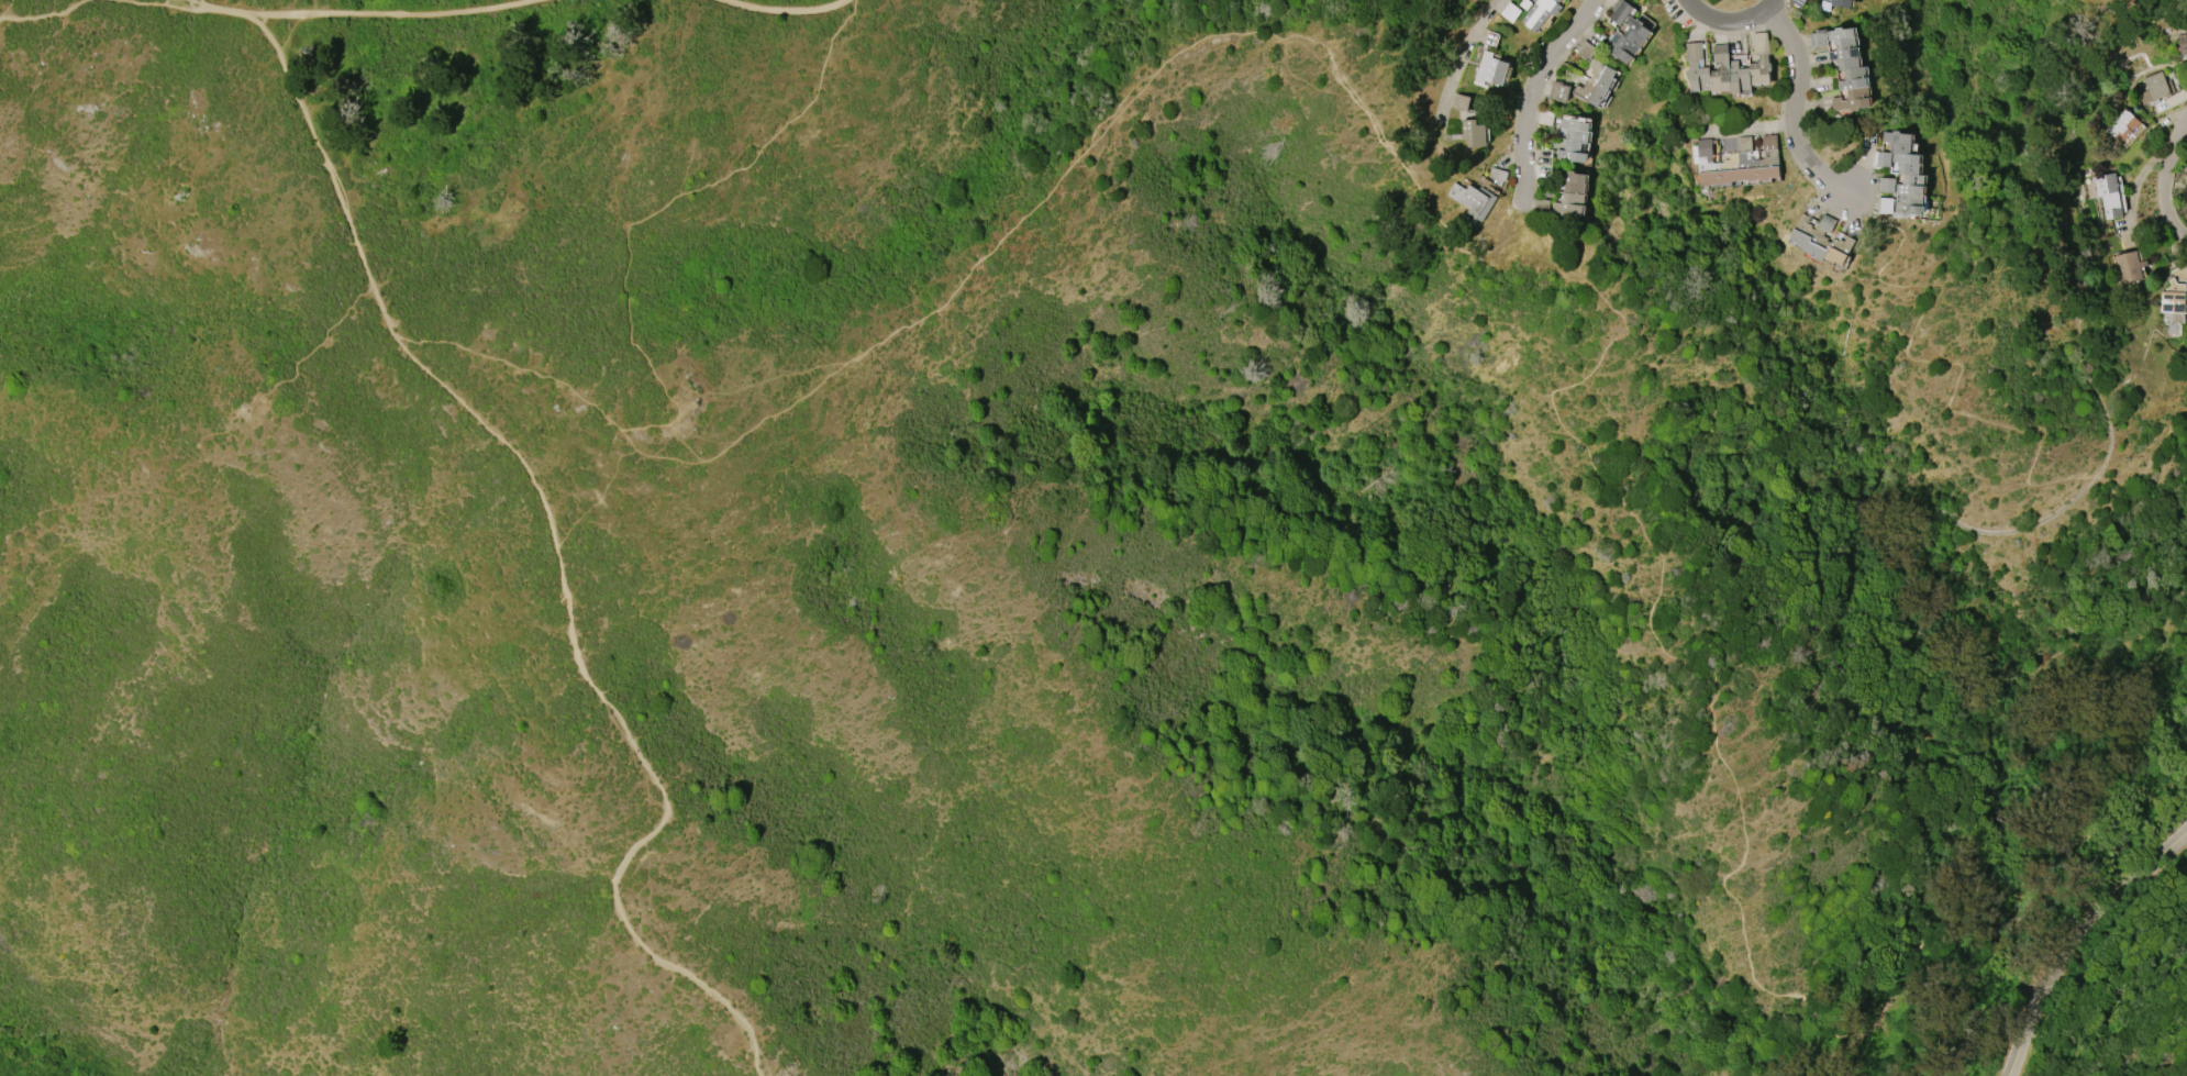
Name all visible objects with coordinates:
road: (95, 1)
road: (188, 1)
building: (1840, 2)
road: (781, 10)
road: (223, 12)
building: (1510, 12)
building: (1540, 12)
road: (399, 14)
road: (1728, 22)
building: (1625, 33)
building: (2183, 45)
building: (1586, 49)
road: (1453, 63)
building: (1729, 67)
building: (1844, 67)
building: (1490, 69)
building: (1596, 82)
building: (2155, 88)
road: (1531, 91)
building: (1458, 102)
road: (1794, 107)
building: (2122, 125)
road: (1750, 129)
building: (1474, 133)
building: (1574, 141)
building: (1738, 162)
building: (1911, 174)
road: (2154, 186)
building: (1572, 193)
building: (2108, 195)
building: (1473, 201)
building: (1541, 207)
building: (1821, 240)
building: (2130, 266)
building: (2176, 295)
road: (628, 317)
road: (560, 556)
road: (1981, 837)
road: (2080, 947)

